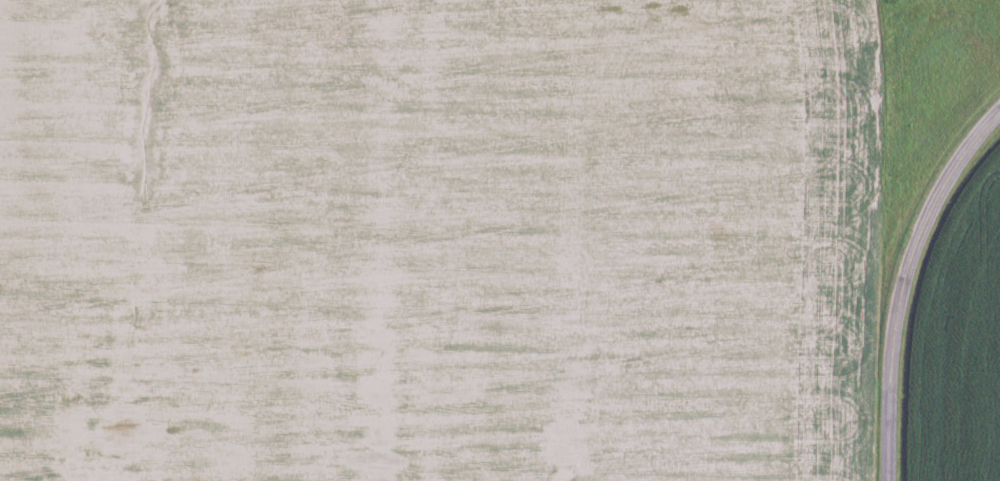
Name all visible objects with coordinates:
road: (905, 282)

